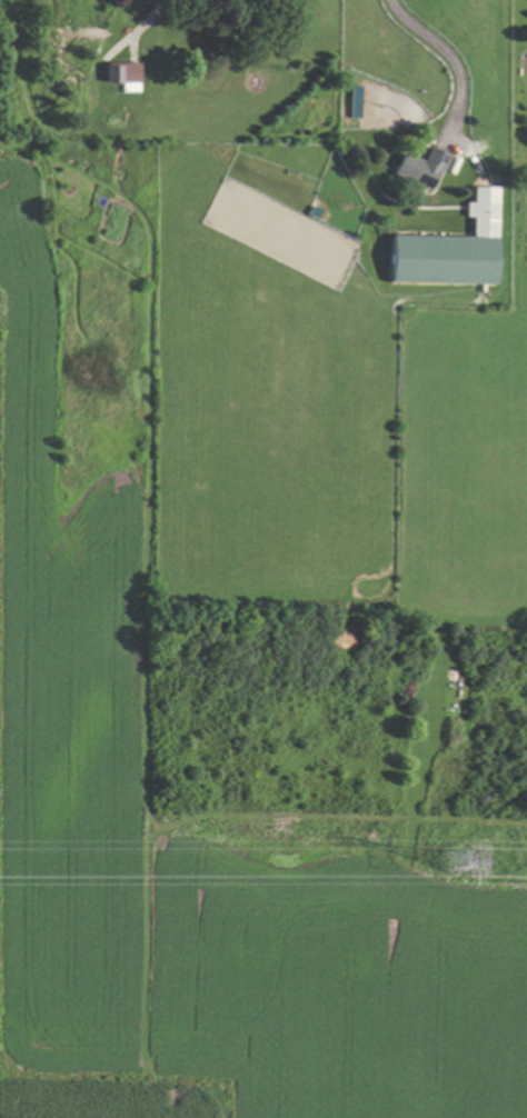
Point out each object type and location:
road: (456, 56)
building: (123, 74)
building: (352, 100)
building: (418, 168)
building: (448, 249)
crop: (63, 719)
power tower: (454, 882)

